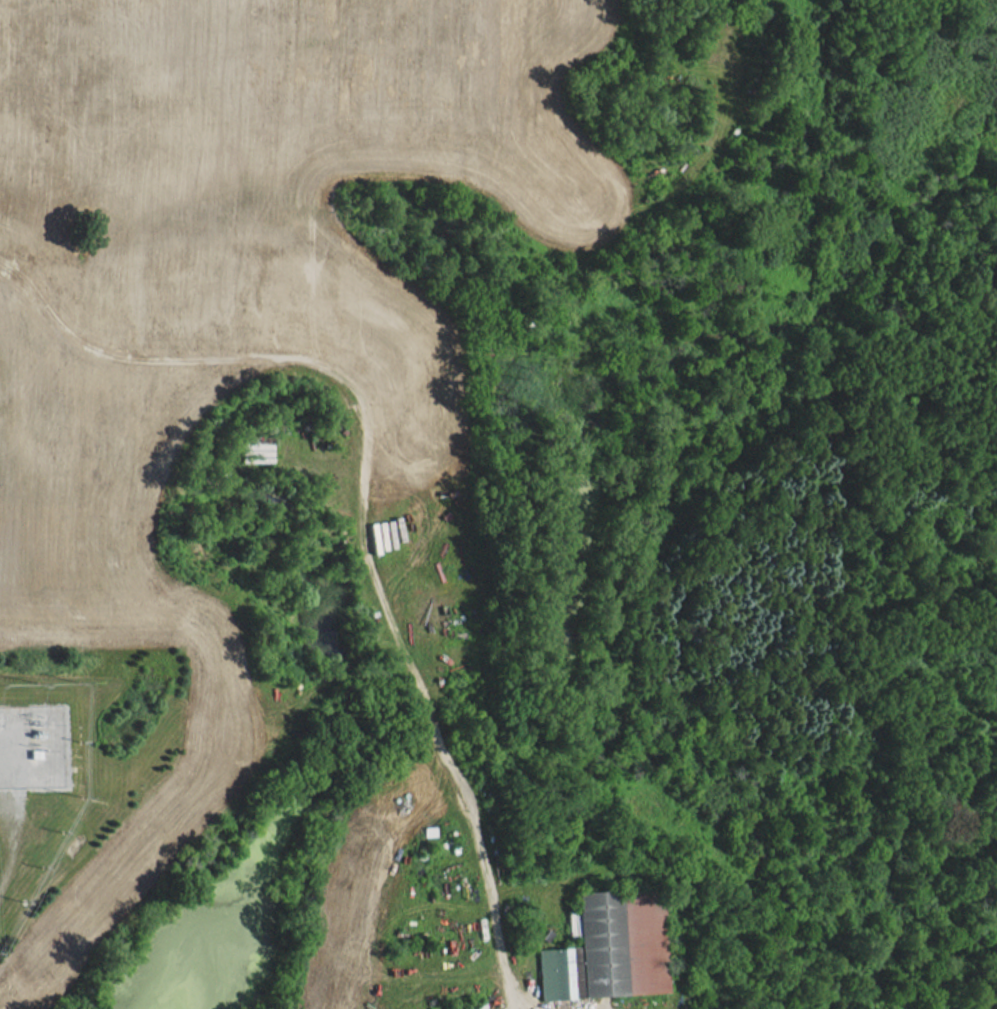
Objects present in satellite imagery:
crop: (584, 25)
crop: (216, 147)
road: (407, 167)
road: (362, 513)
crop: (106, 592)
crop: (0, 618)
power substation: (32, 737)
road: (13, 802)
building: (610, 948)
road: (530, 1000)

